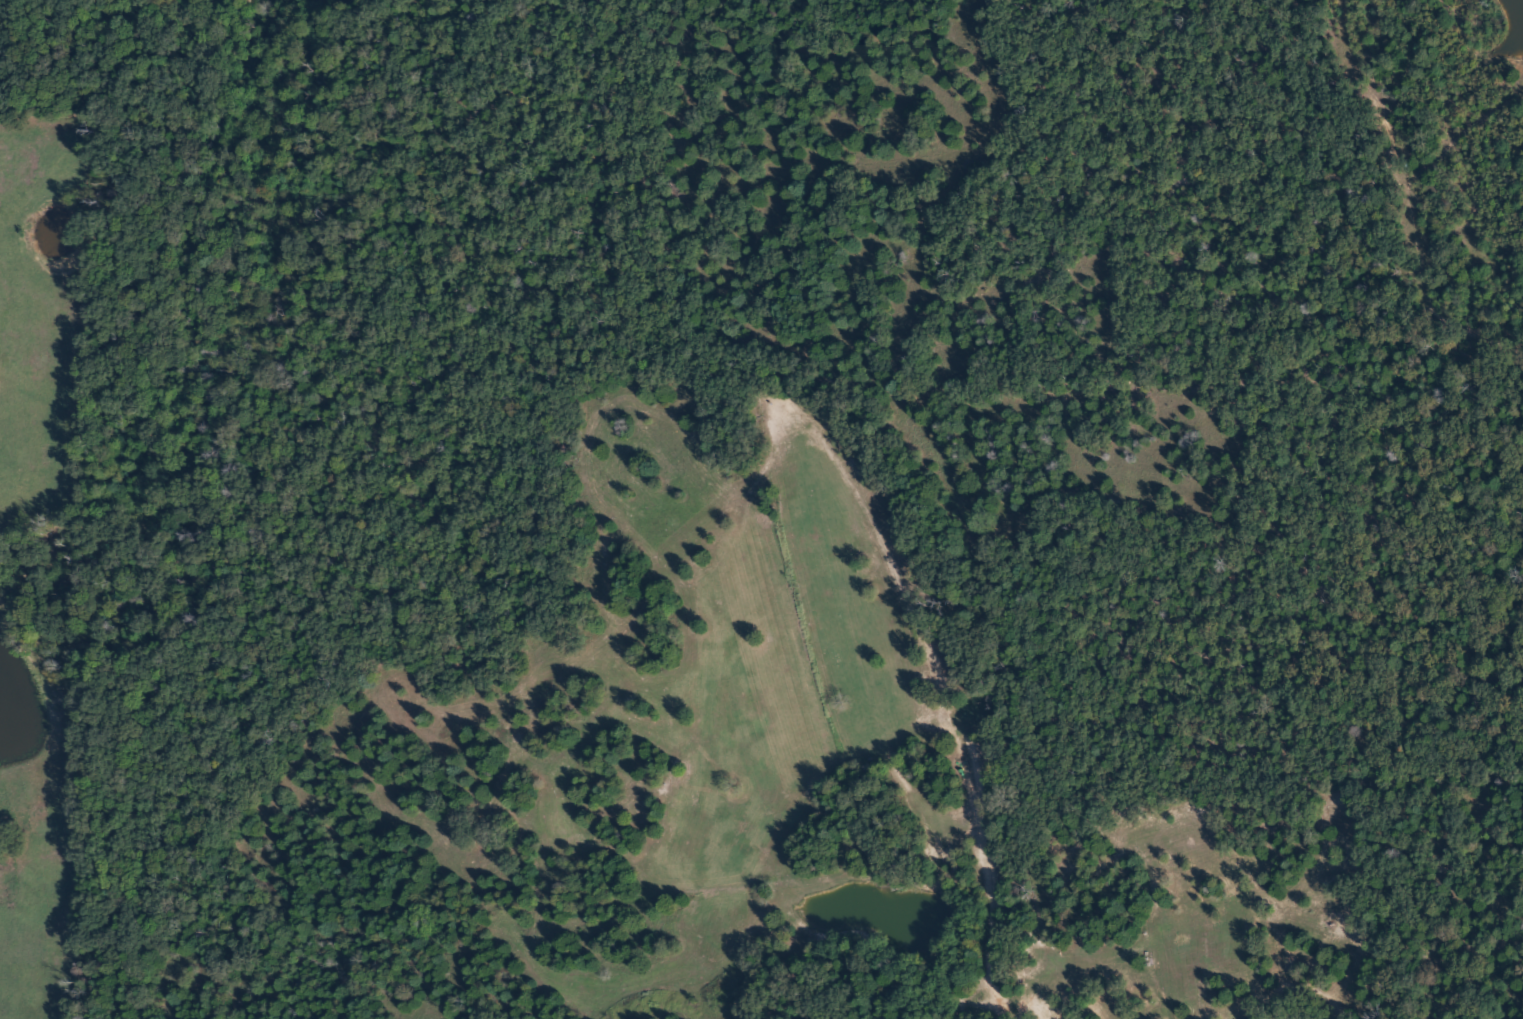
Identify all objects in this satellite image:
road: (1014, 950)

